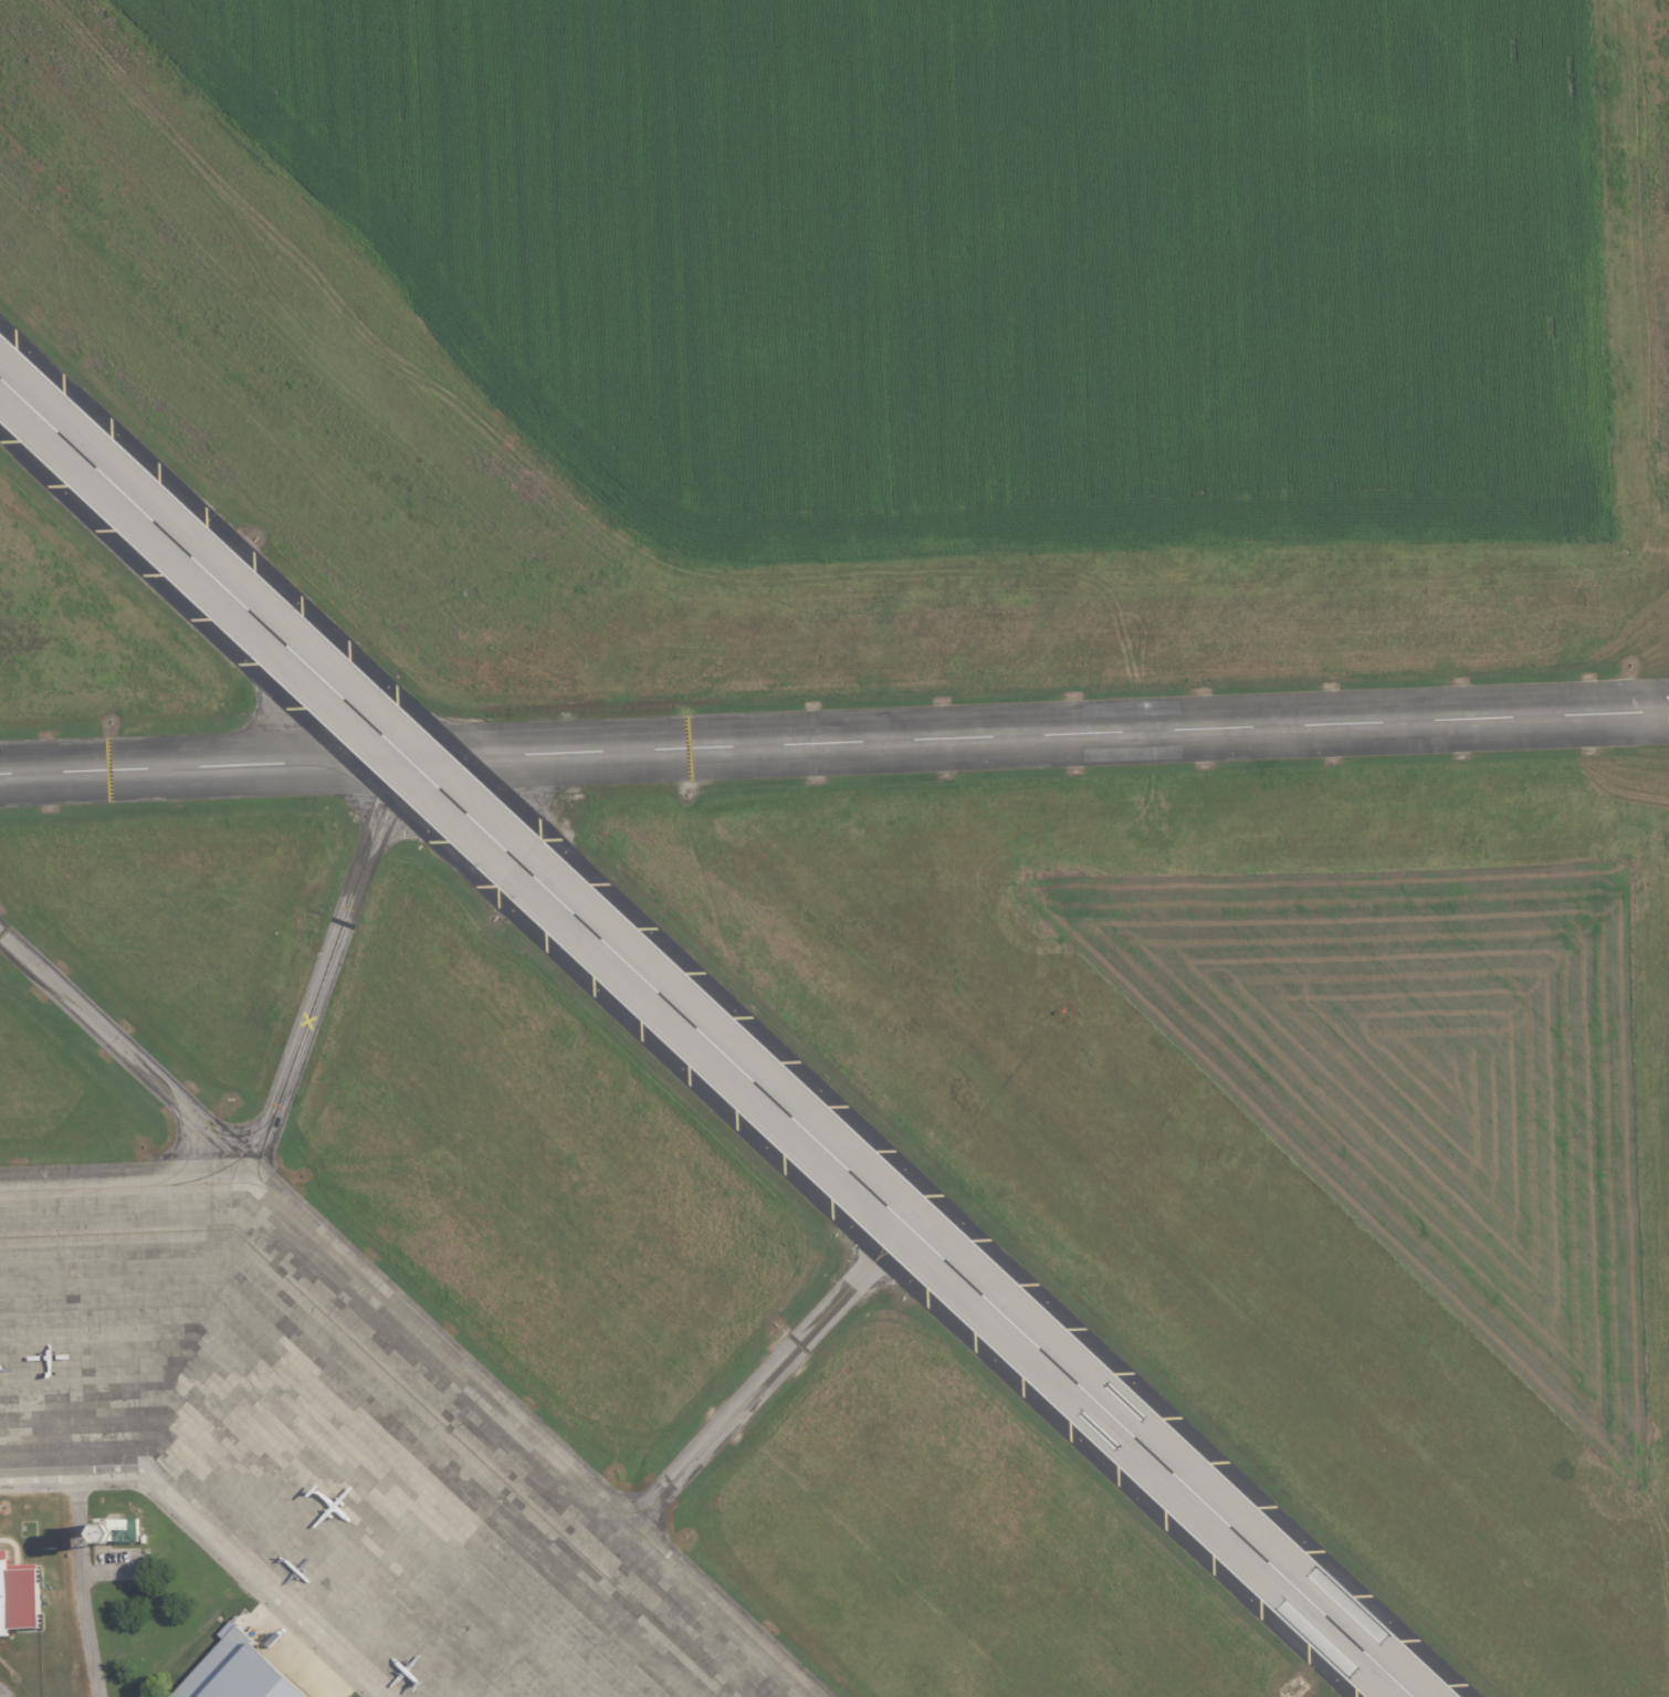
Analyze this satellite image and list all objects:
airport runway: (834, 744)
airport: (834, 848)
airport taxiway: (325, 974)
airport runway: (704, 1038)
airport taxiway: (185, 1106)
airport taxiway: (228, 1134)
airport taxiway: (216, 1171)
airport taxiway: (221, 1182)
airport taxiway: (771, 1372)
airport taxiway: (510, 1412)
airport apron: (333, 1441)
airport taxiway: (629, 1511)
building: (126, 1531)
parking lot: (117, 1568)
airport hangar: (19, 1595)
building: (19, 1595)
road: (296, 1657)
building: (245, 1670)

